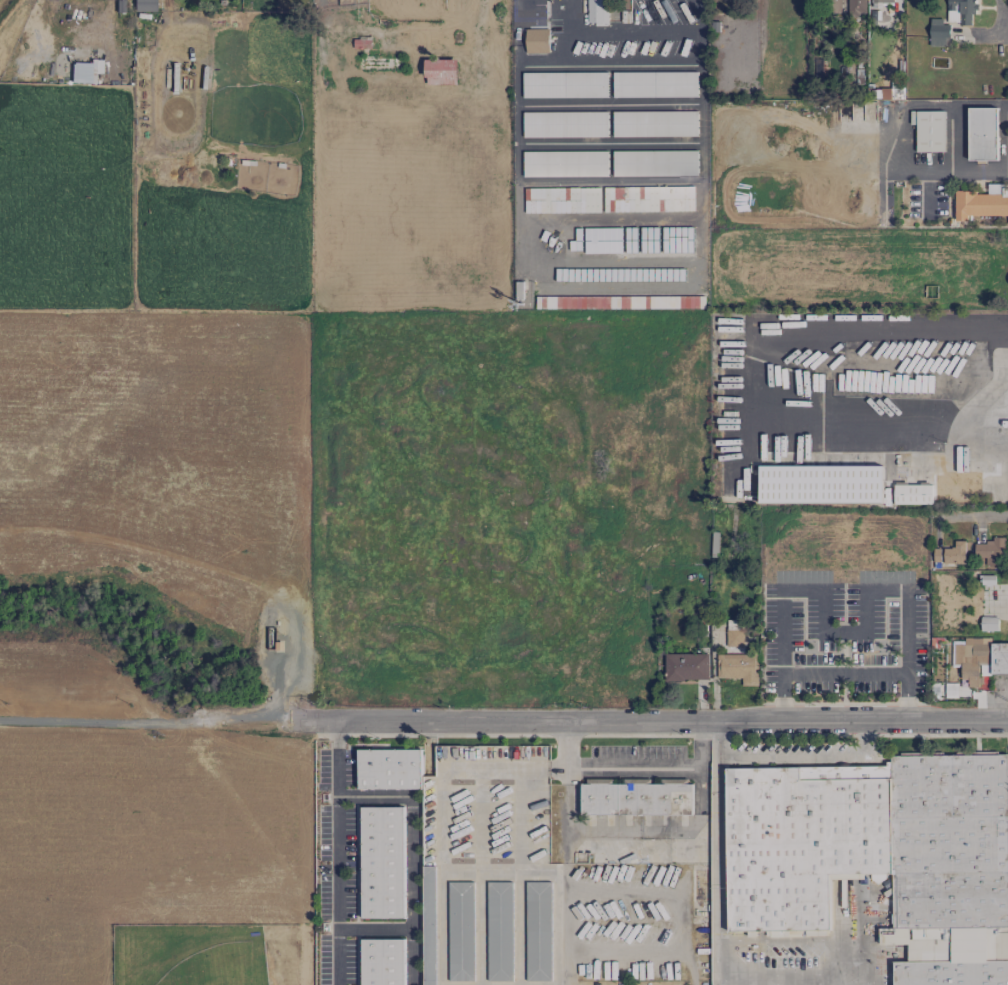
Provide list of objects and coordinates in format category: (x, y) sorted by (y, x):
building: (882, 1)
road: (518, 2)
building: (144, 5)
building: (828, 6)
building: (856, 8)
building: (960, 11)
building: (597, 12)
road: (1004, 18)
road: (699, 32)
building: (938, 32)
building: (537, 41)
building: (441, 72)
building: (83, 73)
building: (654, 84)
building: (565, 85)
building: (893, 93)
building: (565, 124)
building: (654, 124)
building: (929, 130)
building: (982, 133)
building: (654, 163)
building: (565, 164)
road: (964, 173)
building: (648, 199)
building: (562, 200)
building: (982, 203)
road: (978, 408)
building: (820, 484)
building: (932, 488)
road: (977, 515)
building: (990, 551)
building: (955, 553)
building: (986, 579)
road: (1000, 612)
building: (989, 623)
building: (737, 657)
building: (971, 658)
building: (999, 658)
building: (686, 667)
road: (842, 671)
road: (649, 720)
road: (336, 757)
road: (790, 758)
road: (632, 767)
building: (389, 769)
building: (635, 798)
road: (411, 852)
building: (880, 856)
building: (382, 862)
road: (441, 872)
building: (699, 886)
road: (336, 889)
building: (428, 925)
road: (374, 928)
building: (461, 931)
building: (499, 931)
building: (538, 931)
park: (211, 953)
building: (382, 962)

